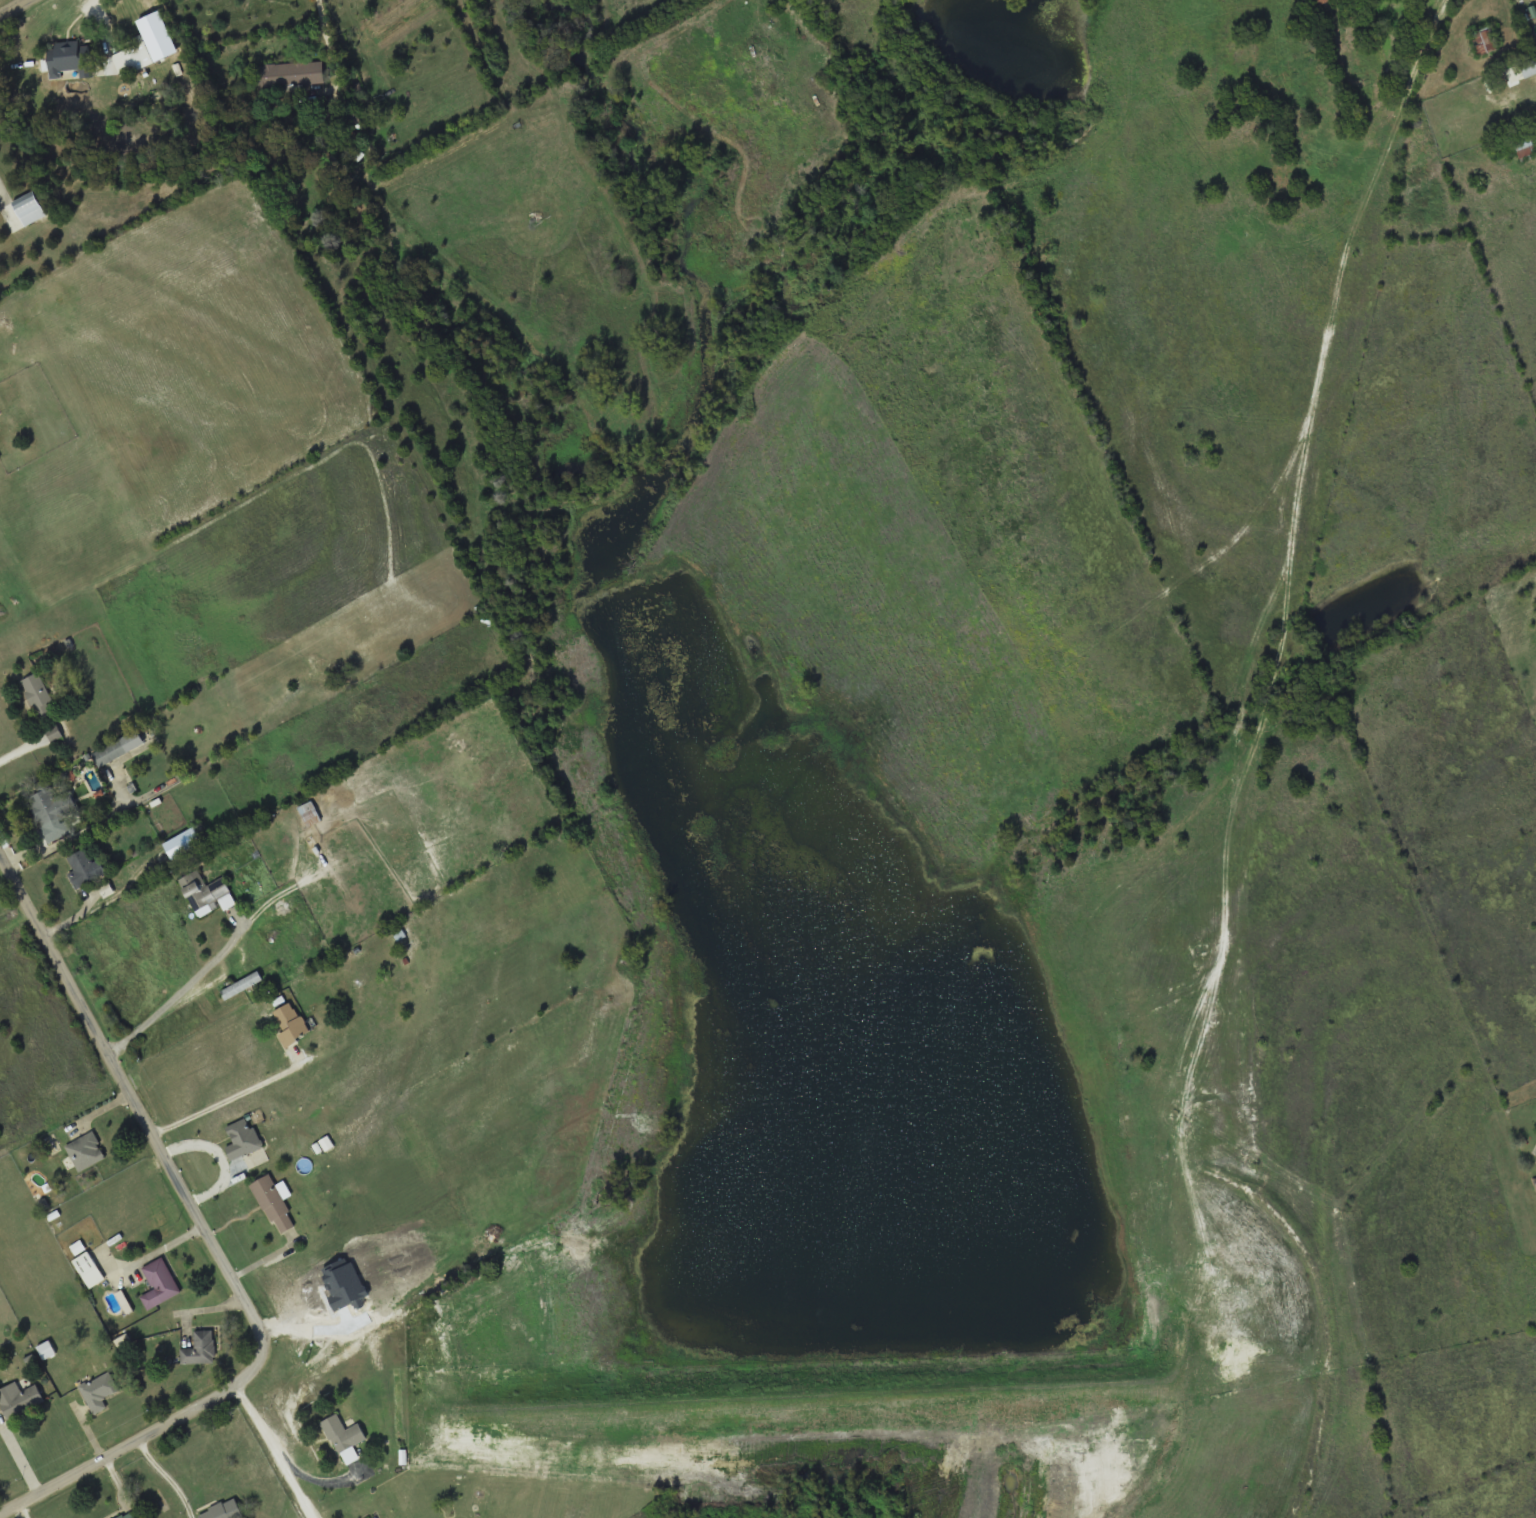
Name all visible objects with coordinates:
building: (1331, 0)
road: (16, 9)
building: (1485, 42)
building: (72, 59)
building: (135, 59)
building: (1529, 67)
building: (289, 76)
building: (343, 120)
building: (1523, 141)
building: (30, 208)
building: (38, 694)
building: (119, 748)
building: (52, 804)
building: (310, 813)
building: (82, 867)
building: (206, 893)
building: (242, 985)
building: (292, 1024)
road: (146, 1123)
building: (243, 1138)
building: (86, 1151)
building: (274, 1203)
building: (89, 1269)
building: (159, 1284)
building: (200, 1348)
building: (99, 1391)
building: (20, 1399)
building: (343, 1433)
road: (116, 1452)
road: (272, 1453)
building: (224, 1510)
building: (130, 1514)

